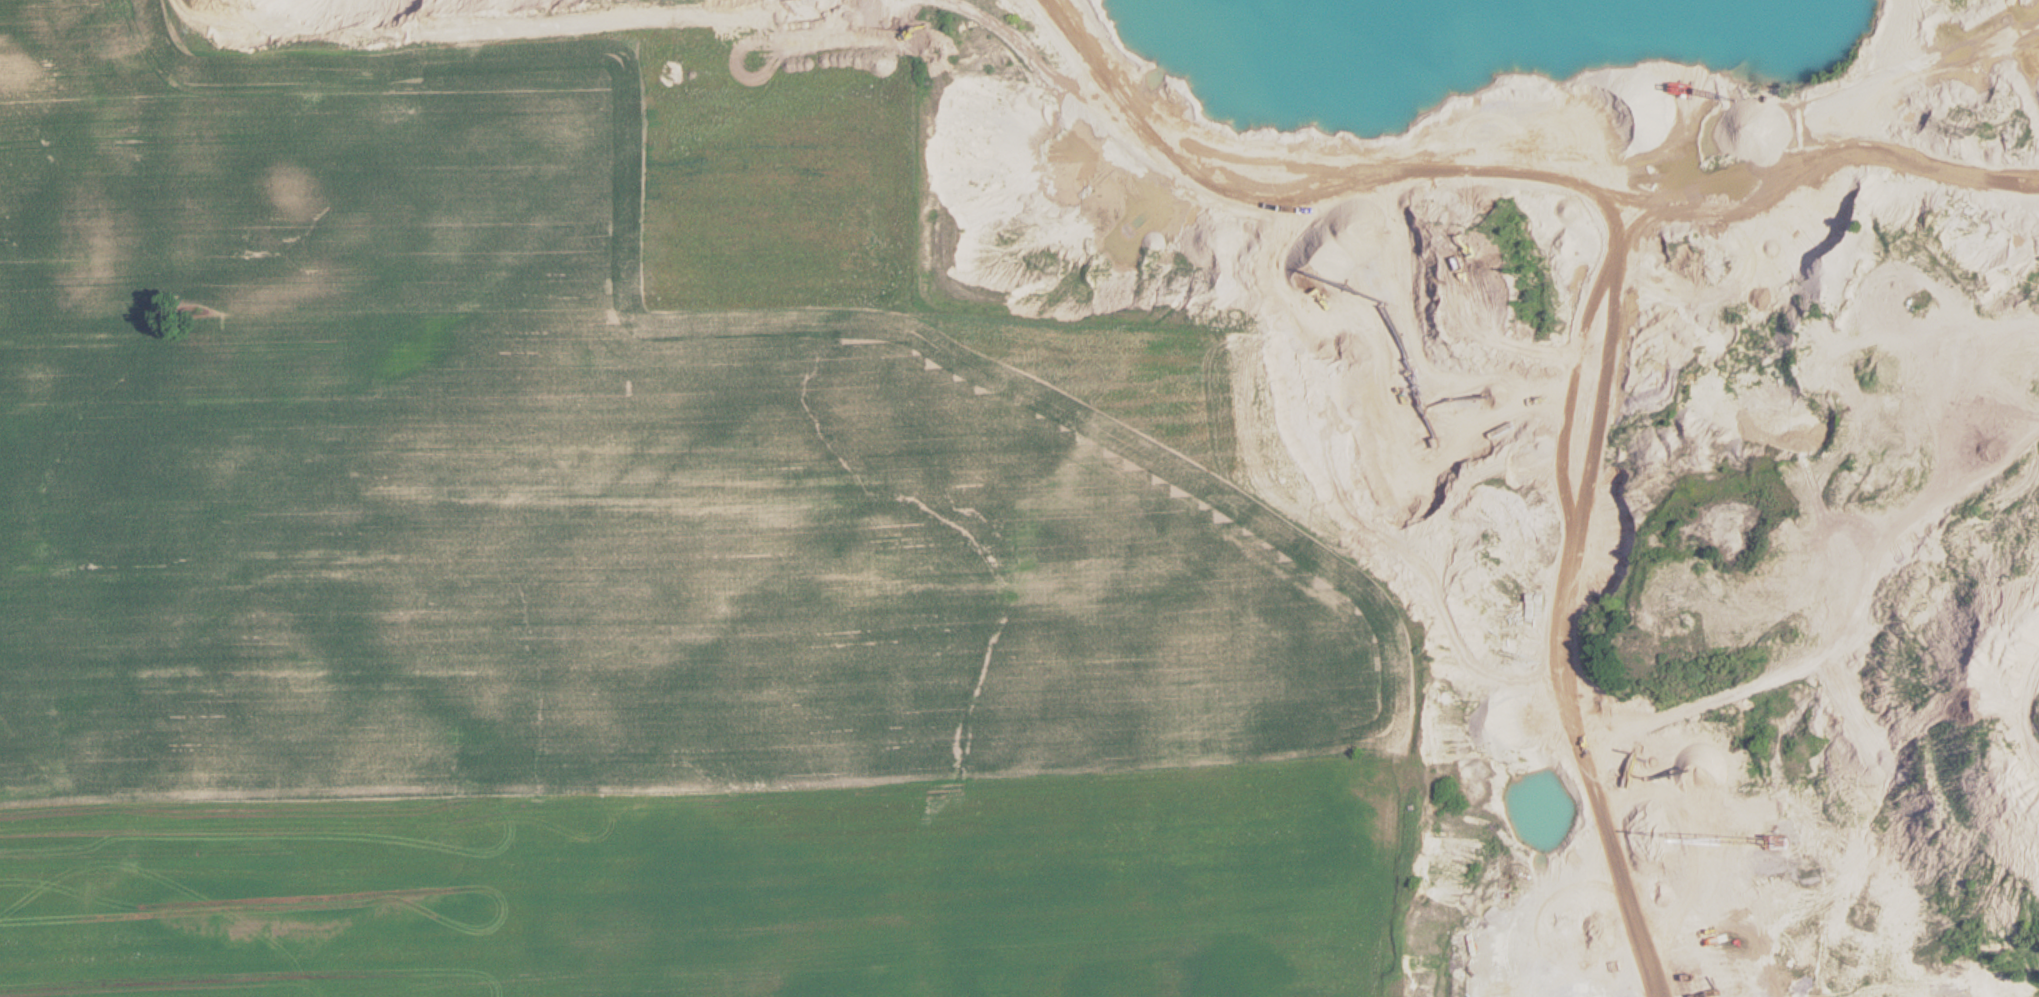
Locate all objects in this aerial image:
building: (1977, 357)
quarry: (1612, 430)
road: (901, 779)

